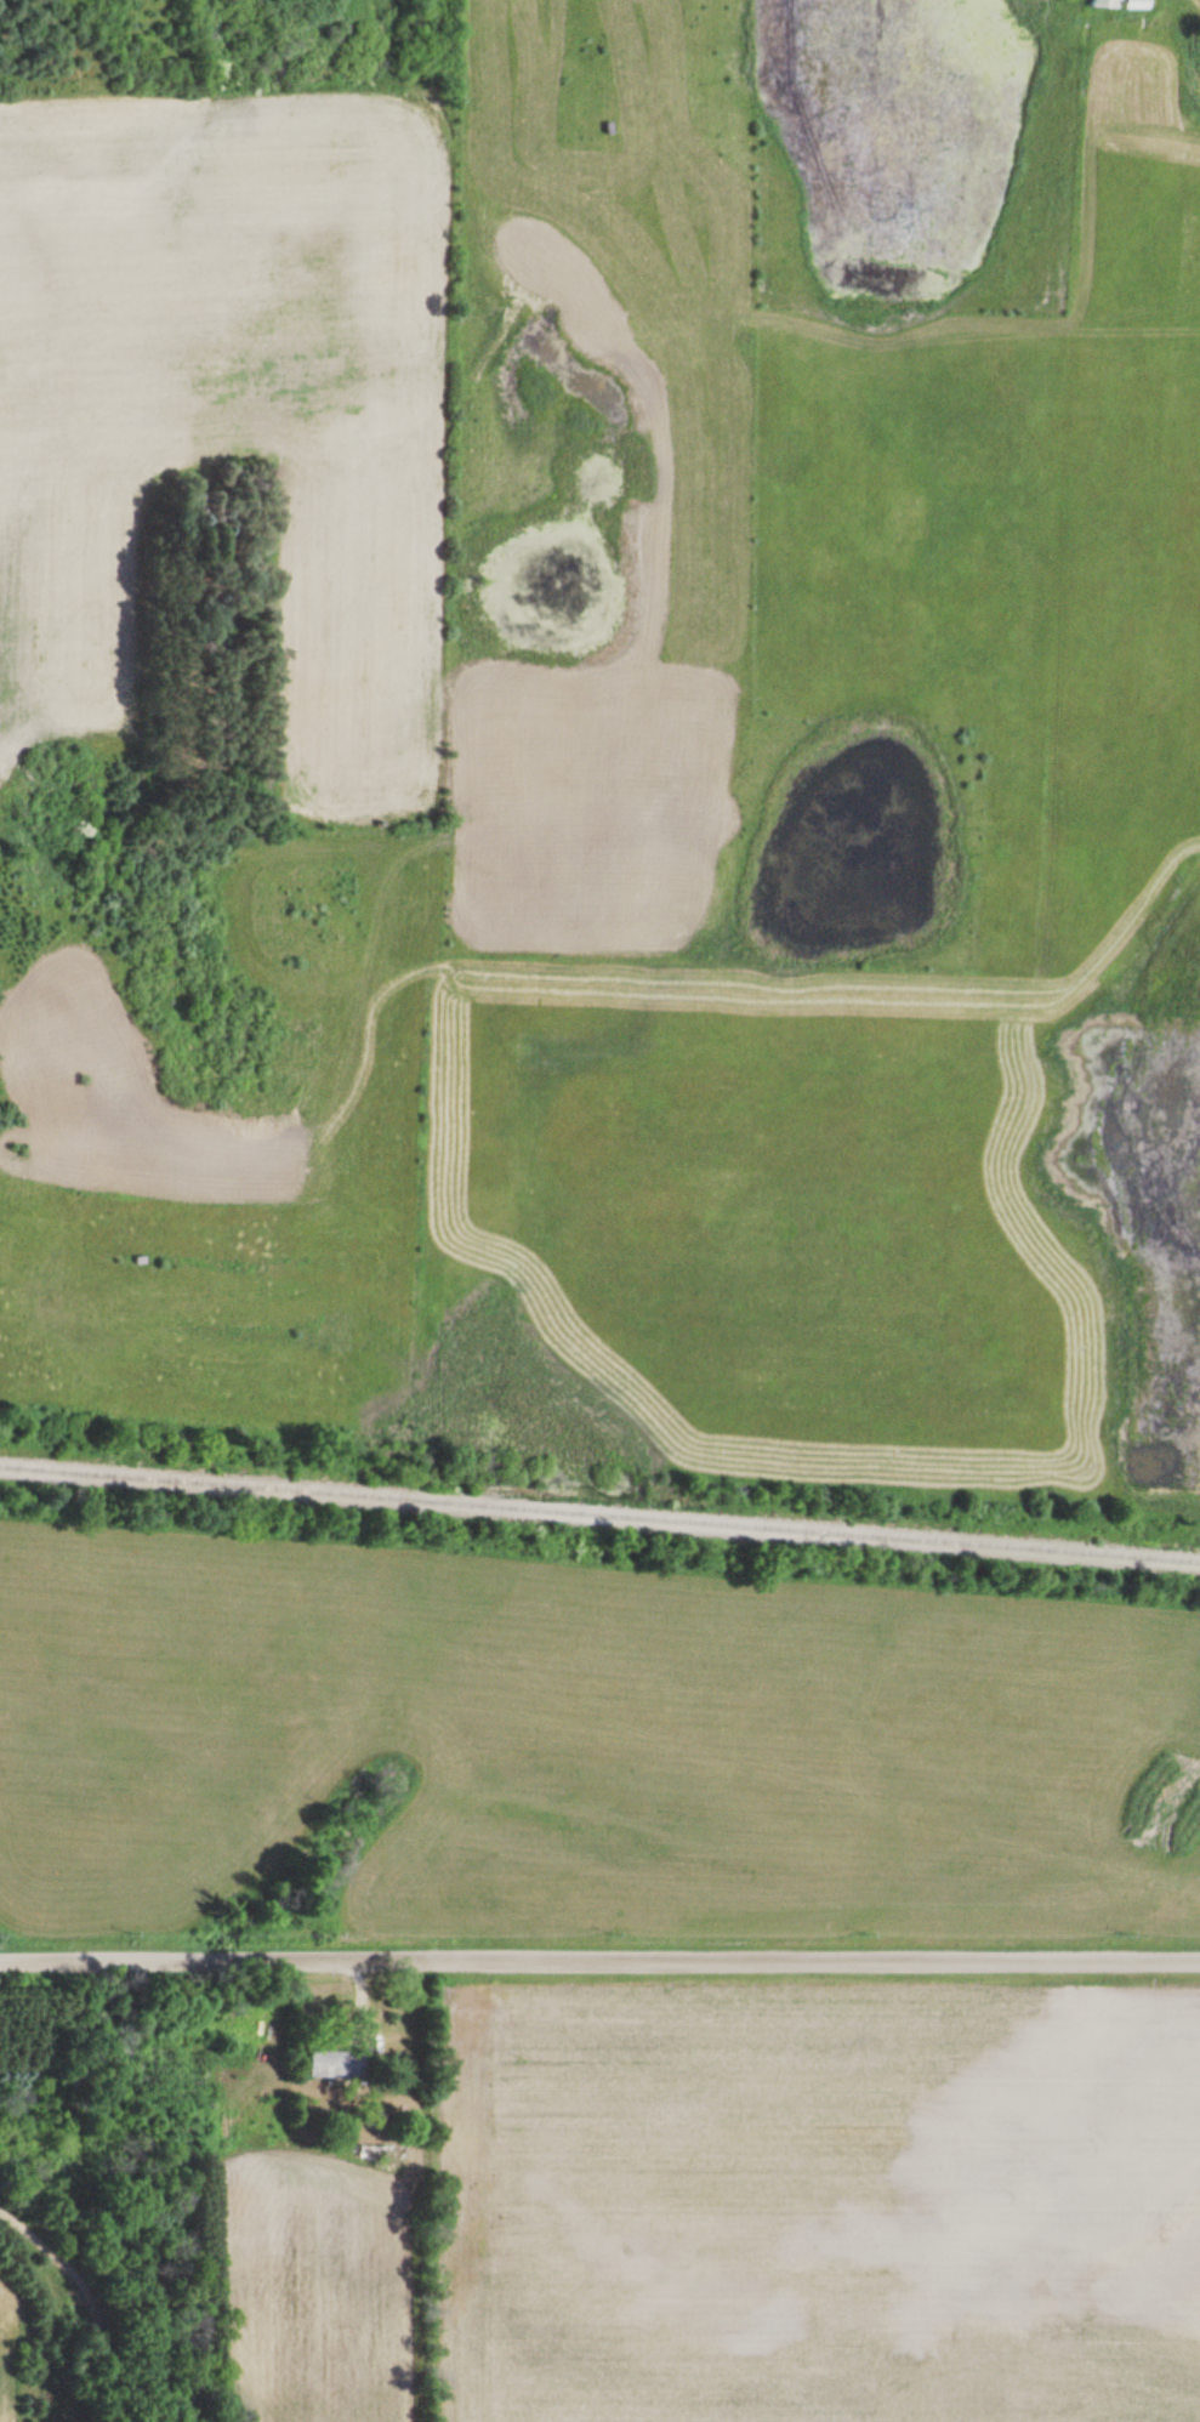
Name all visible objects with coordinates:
building: (1111, 2)
railway: (599, 1510)
road: (599, 1955)
building: (328, 2064)

